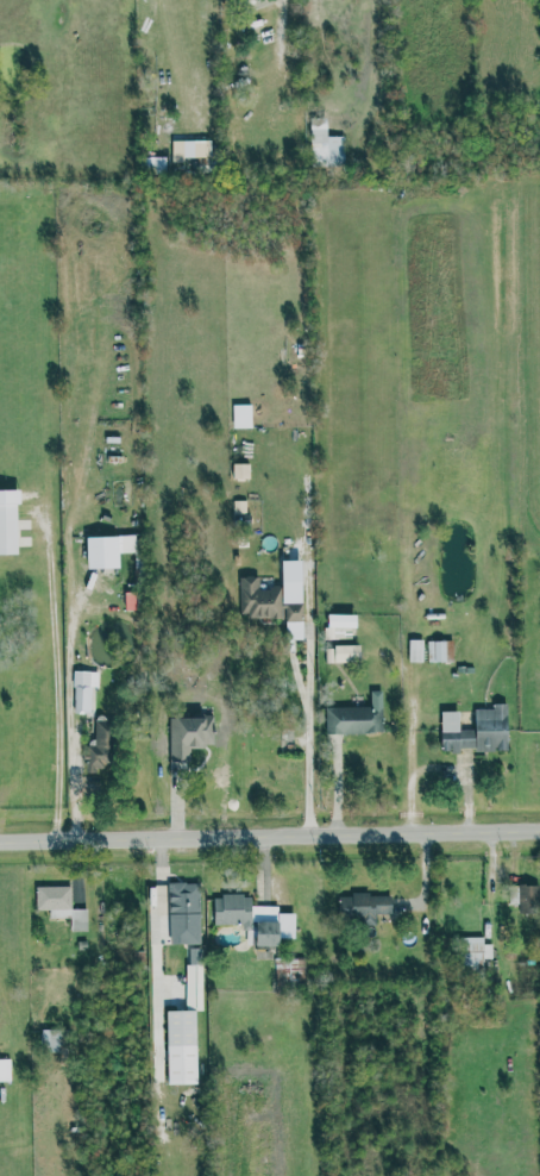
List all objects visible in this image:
road: (280, 33)
road: (395, 83)
building: (325, 144)
building: (190, 149)
building: (241, 415)
building: (240, 471)
building: (8, 521)
building: (127, 544)
building: (258, 599)
building: (340, 626)
building: (415, 650)
building: (440, 651)
building: (343, 653)
road: (57, 689)
building: (83, 690)
building: (356, 718)
building: (475, 731)
building: (187, 738)
road: (306, 739)
building: (99, 750)
road: (269, 836)
building: (528, 899)
building: (61, 905)
building: (364, 907)
building: (184, 913)
building: (253, 919)
building: (473, 951)
building: (289, 969)
building: (184, 1031)
building: (51, 1040)
building: (5, 1070)

